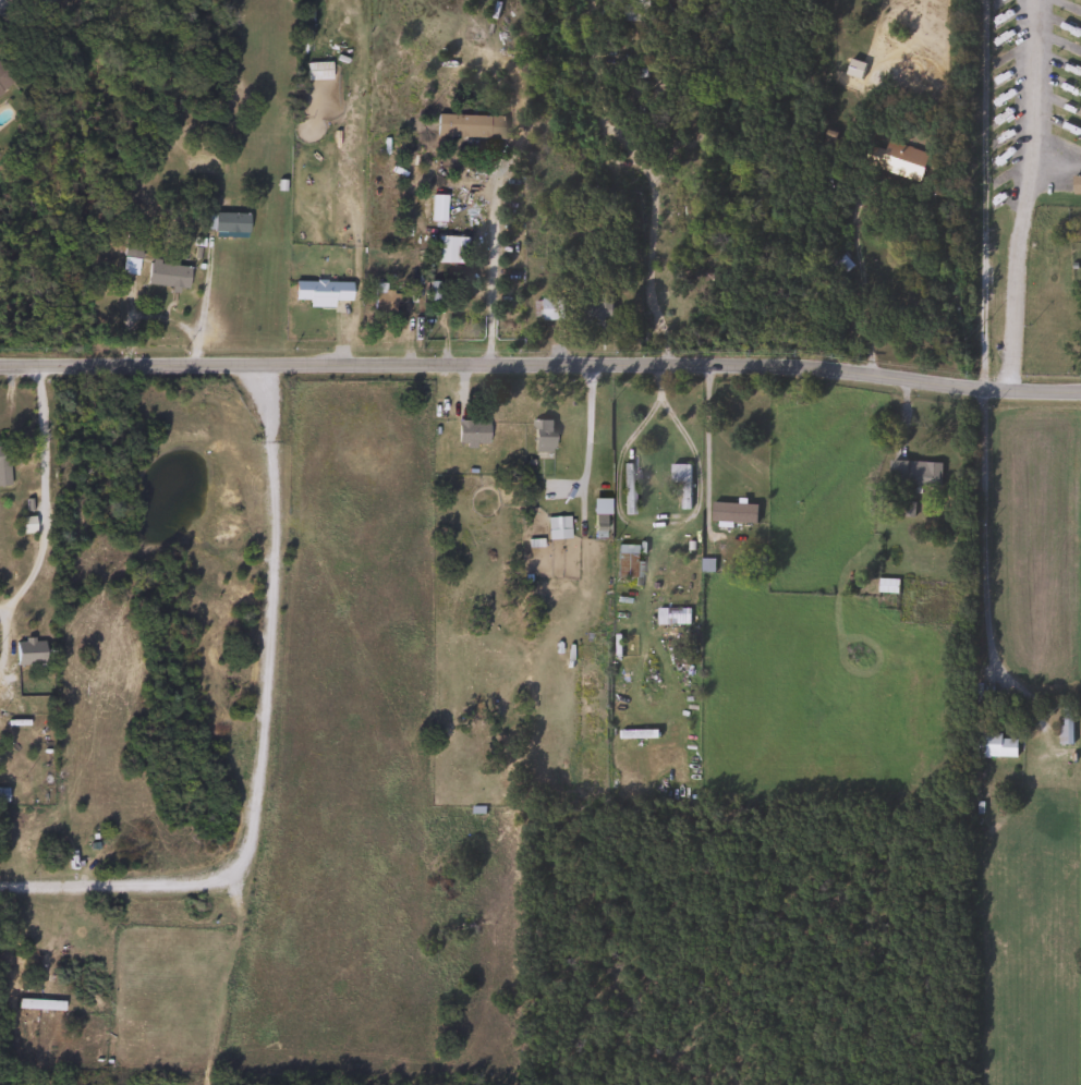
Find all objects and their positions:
building: (852, 69)
road: (1027, 81)
building: (3, 82)
building: (314, 94)
building: (467, 126)
building: (899, 160)
road: (1053, 160)
road: (649, 180)
road: (984, 187)
building: (436, 208)
building: (227, 223)
building: (446, 251)
road: (491, 258)
road: (1013, 270)
road: (859, 272)
building: (162, 275)
building: (317, 292)
road: (202, 301)
building: (381, 301)
building: (551, 308)
building: (594, 308)
road: (540, 359)
building: (470, 434)
building: (540, 436)
road: (588, 438)
road: (706, 444)
building: (4, 463)
road: (618, 471)
building: (912, 474)
road: (35, 486)
building: (683, 487)
building: (627, 490)
building: (732, 513)
road: (683, 519)
building: (21, 526)
building: (556, 528)
road: (983, 529)
building: (623, 562)
building: (25, 651)
building: (1065, 724)
road: (257, 732)
building: (994, 745)

